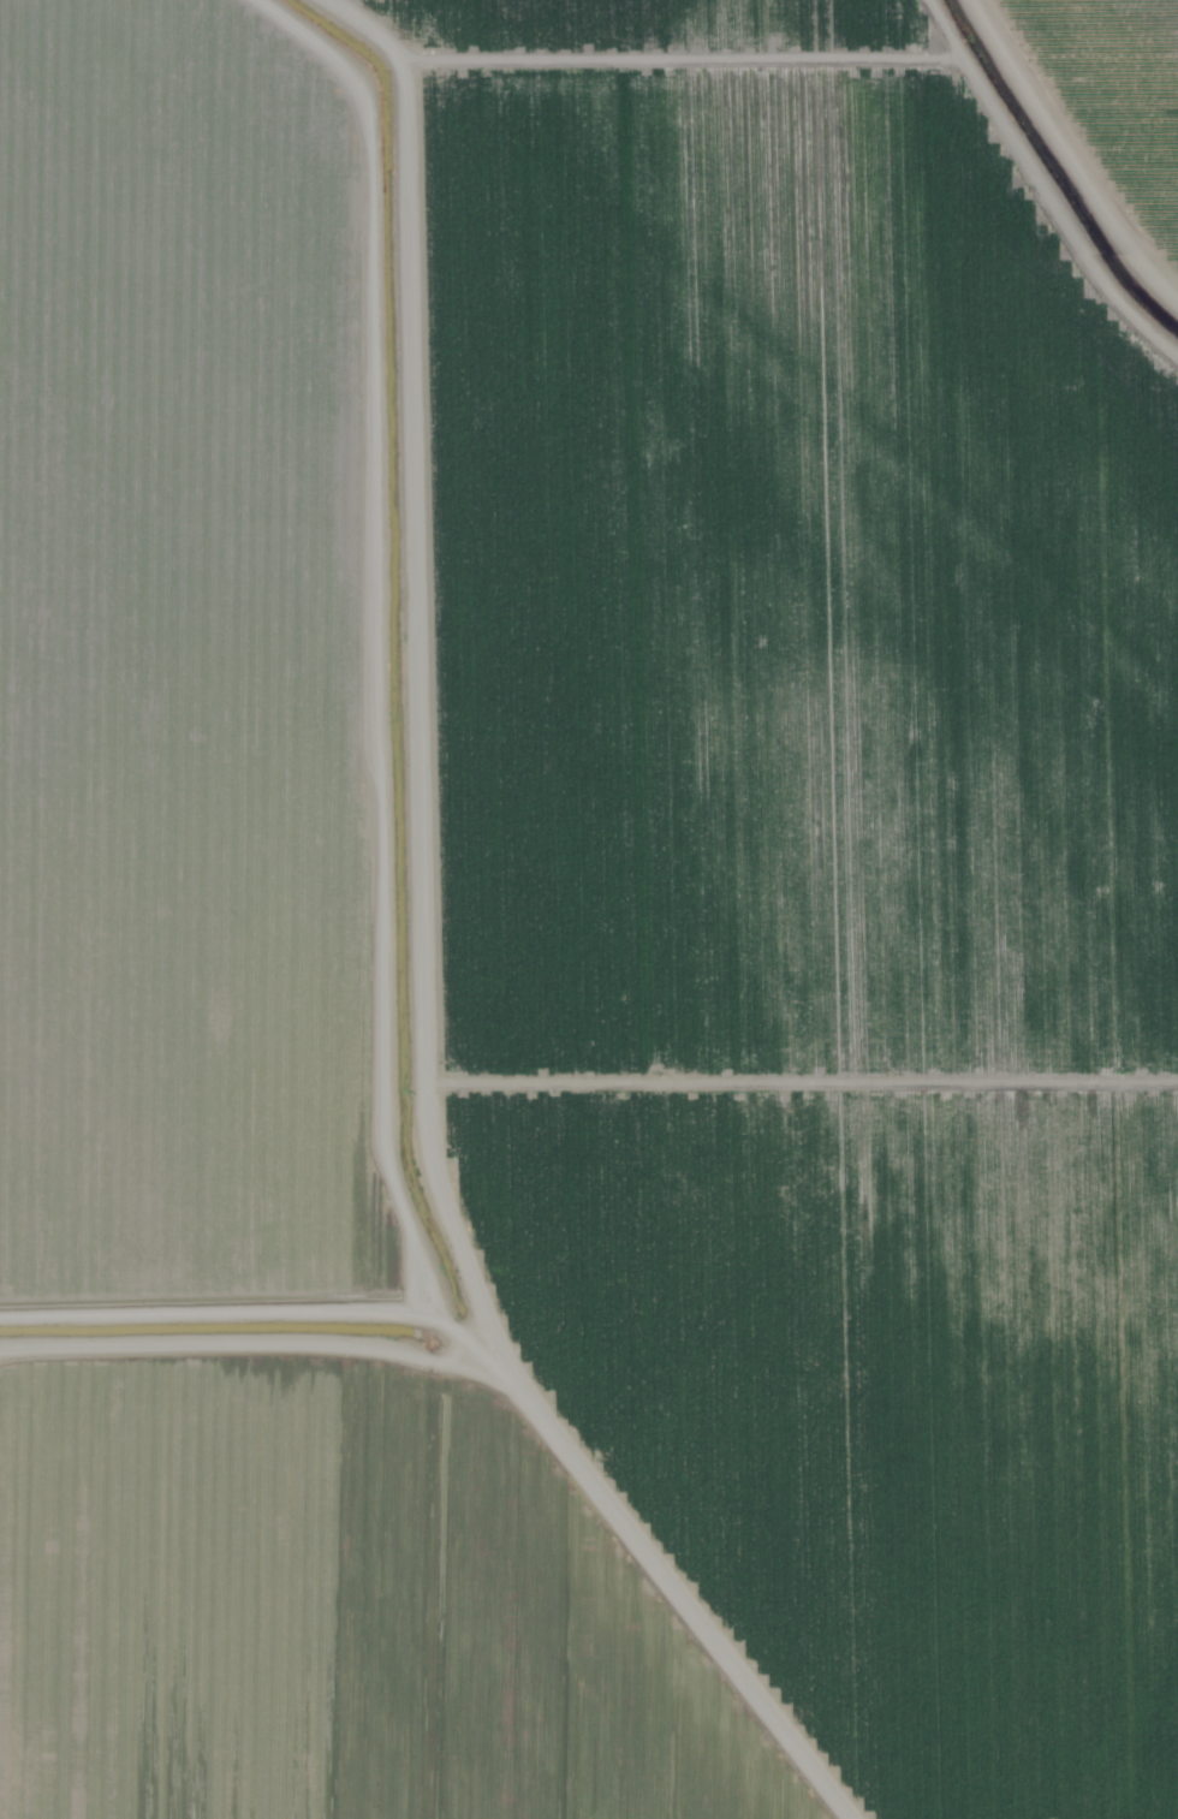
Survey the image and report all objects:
crop: (1126, 77)
crop: (210, 665)
crop: (719, 1006)

